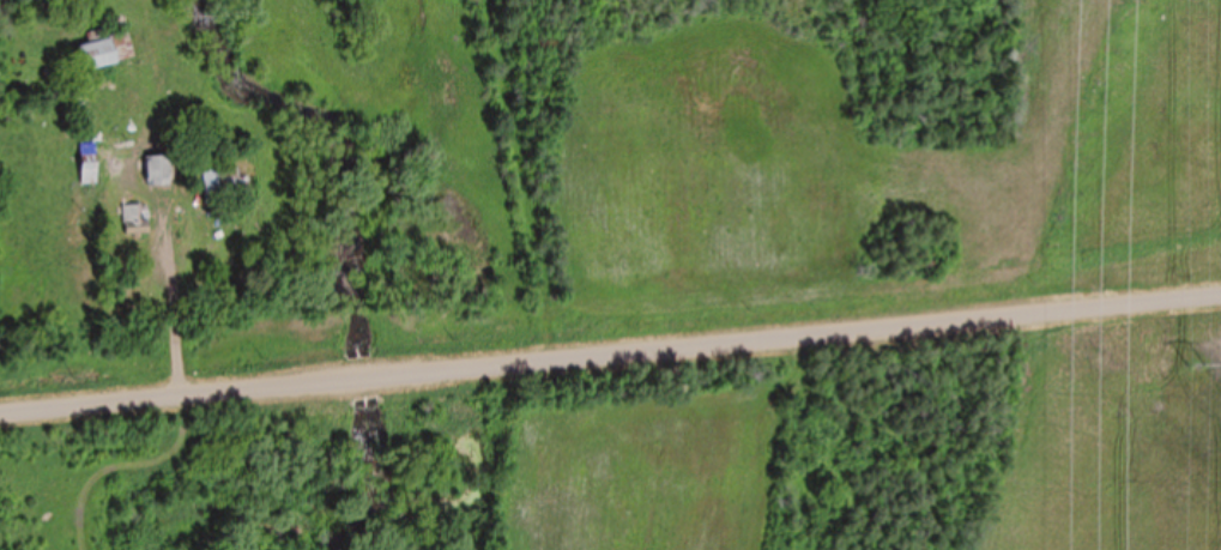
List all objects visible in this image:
building: (104, 52)
building: (87, 165)
building: (157, 171)
building: (222, 186)
building: (135, 220)
road: (610, 355)
power tower: (1203, 363)

